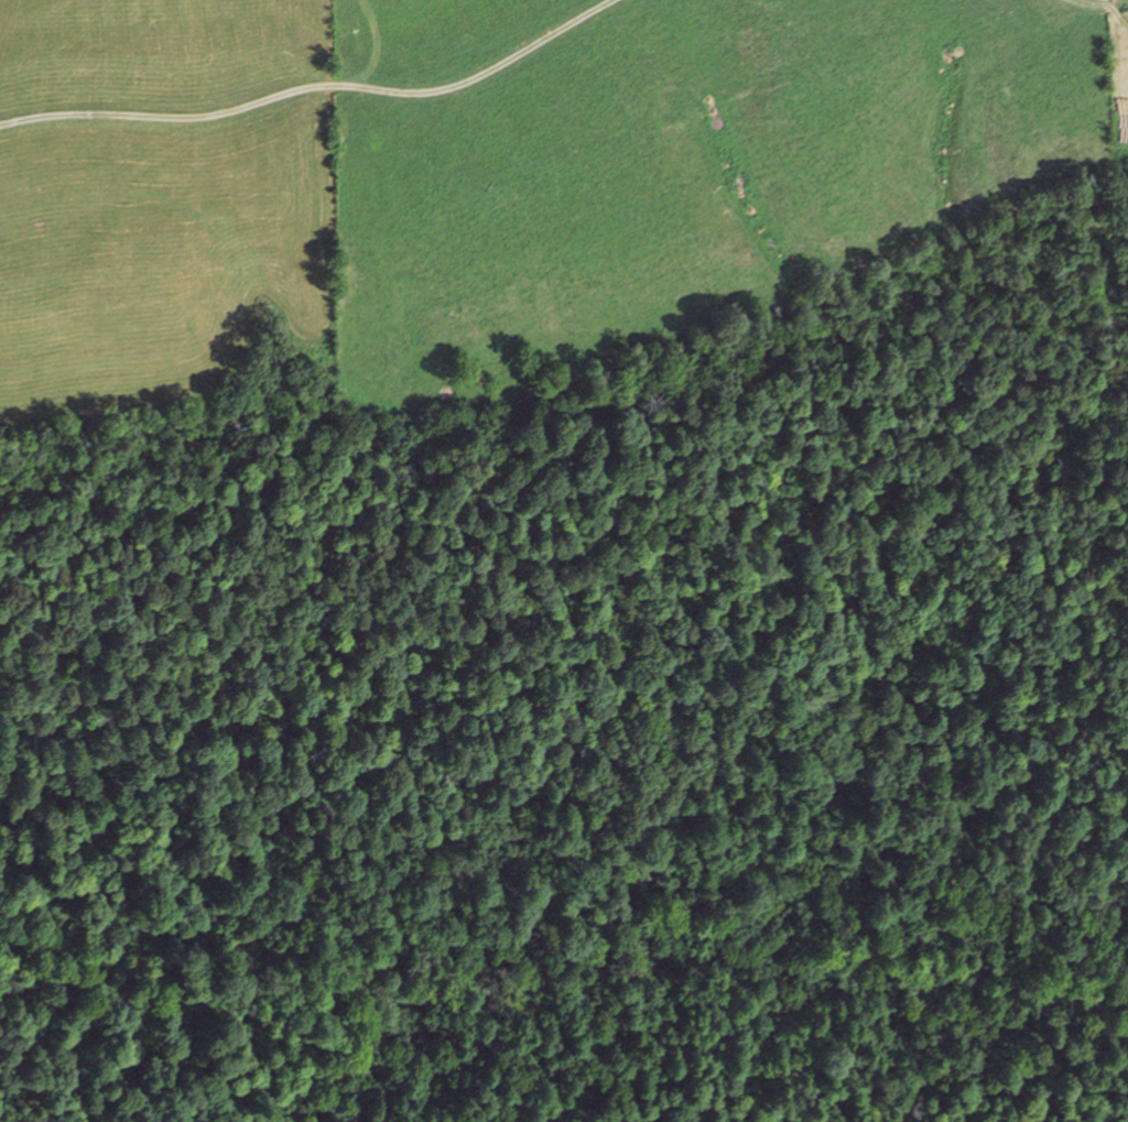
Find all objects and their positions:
road: (571, 291)

